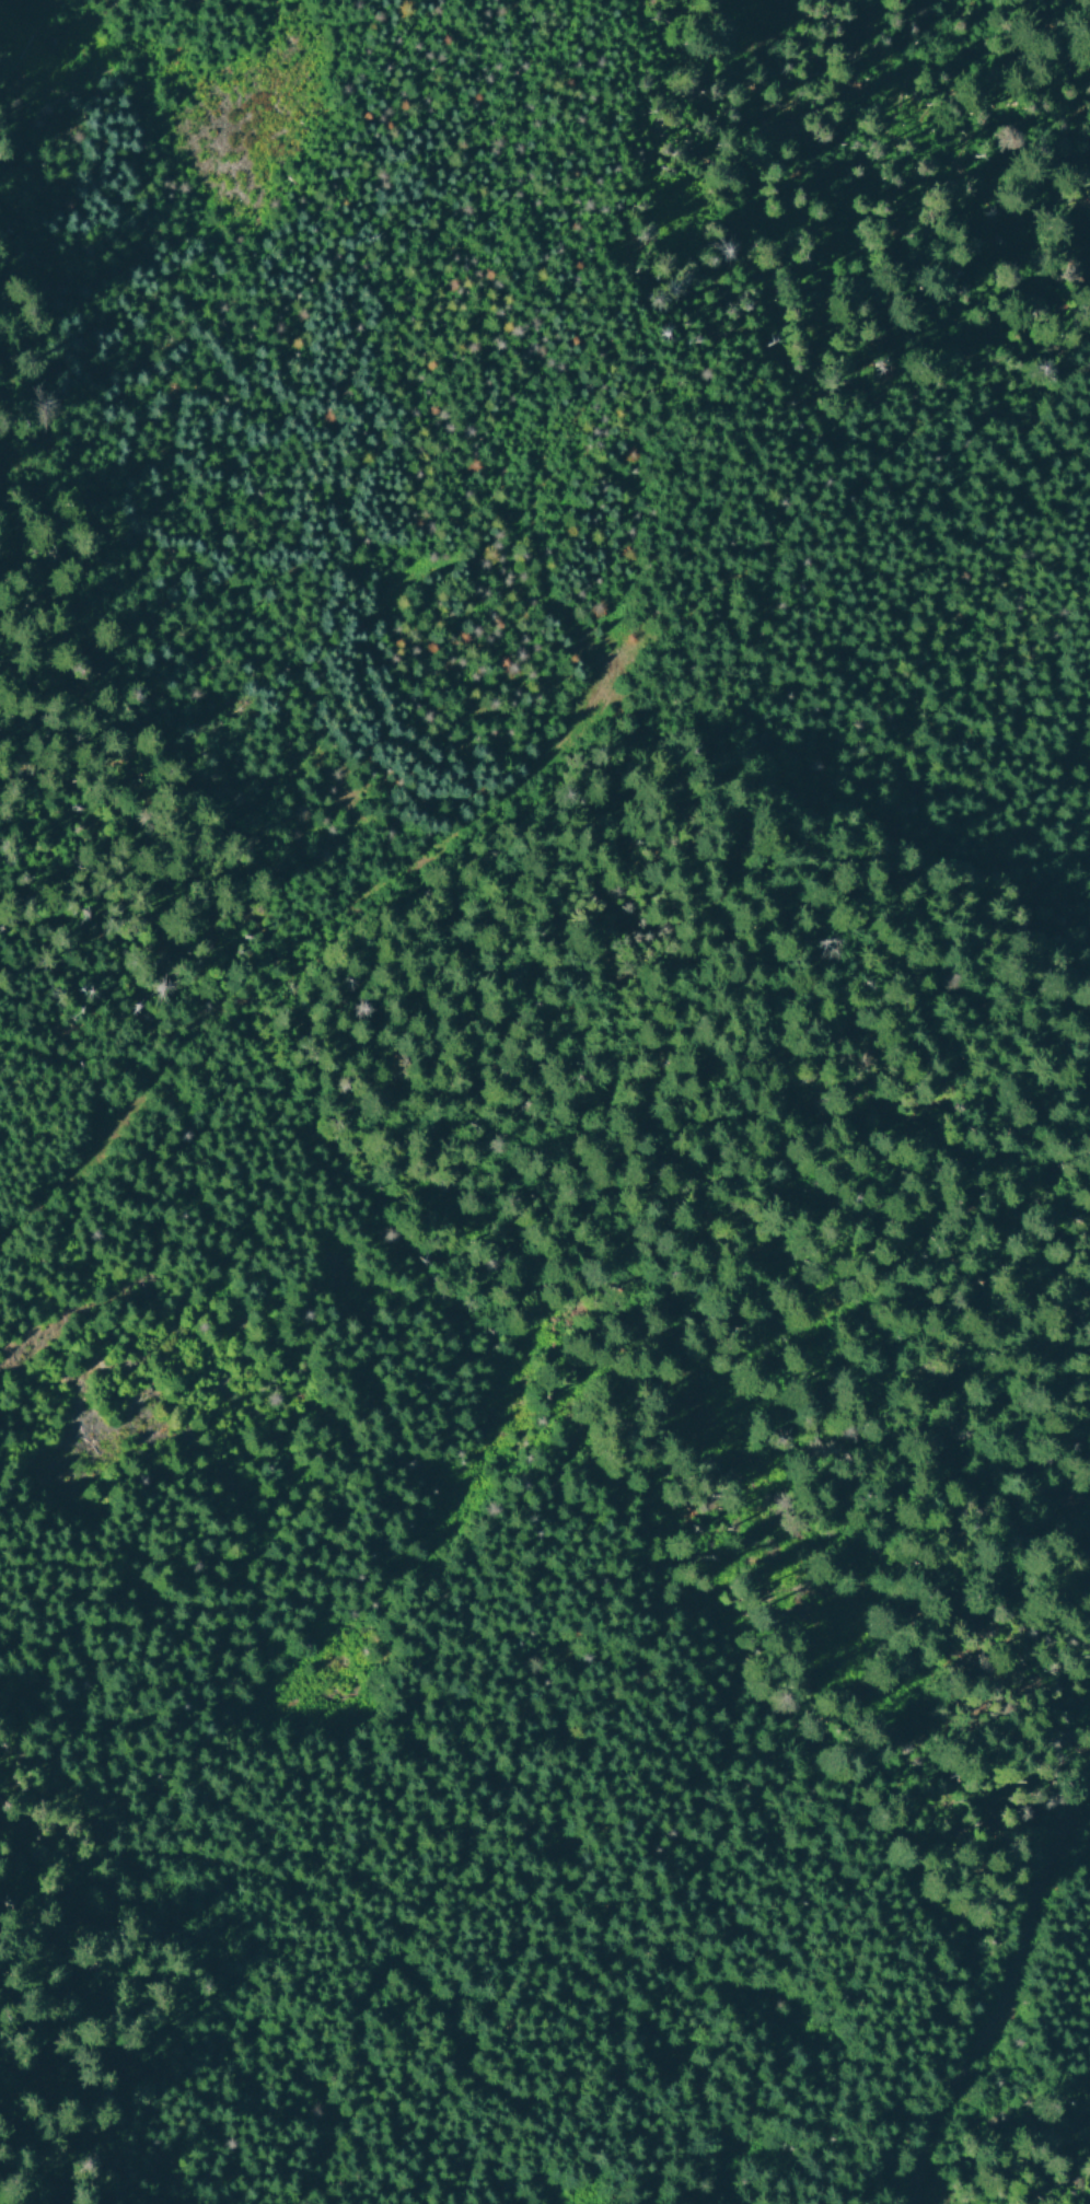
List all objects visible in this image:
road: (1001, 2007)

